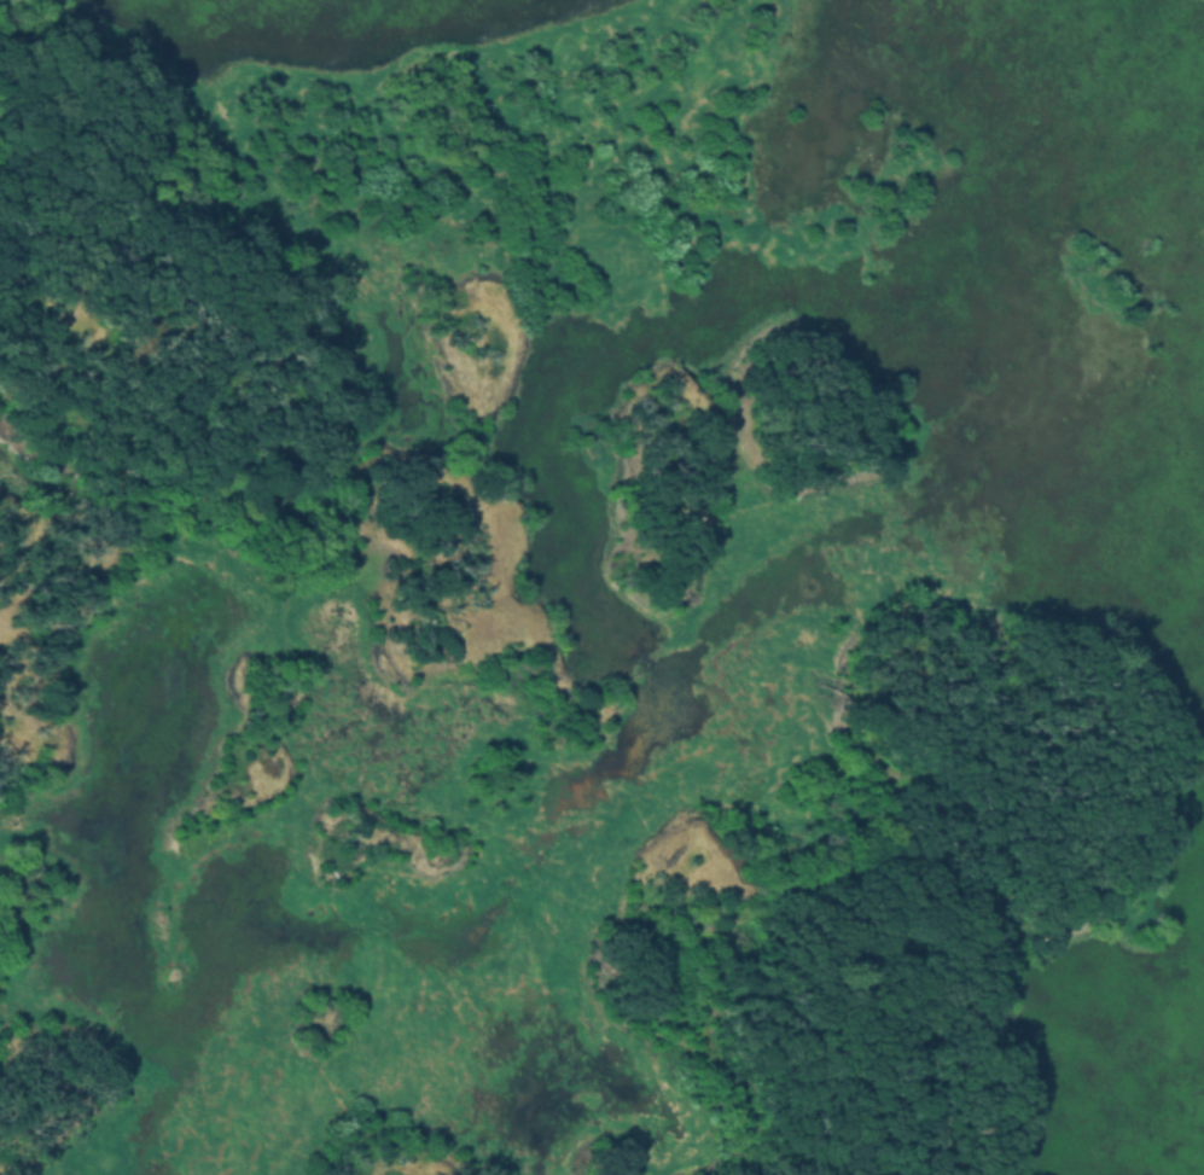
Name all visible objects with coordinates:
road: (898, 1106)
road: (1000, 1106)

